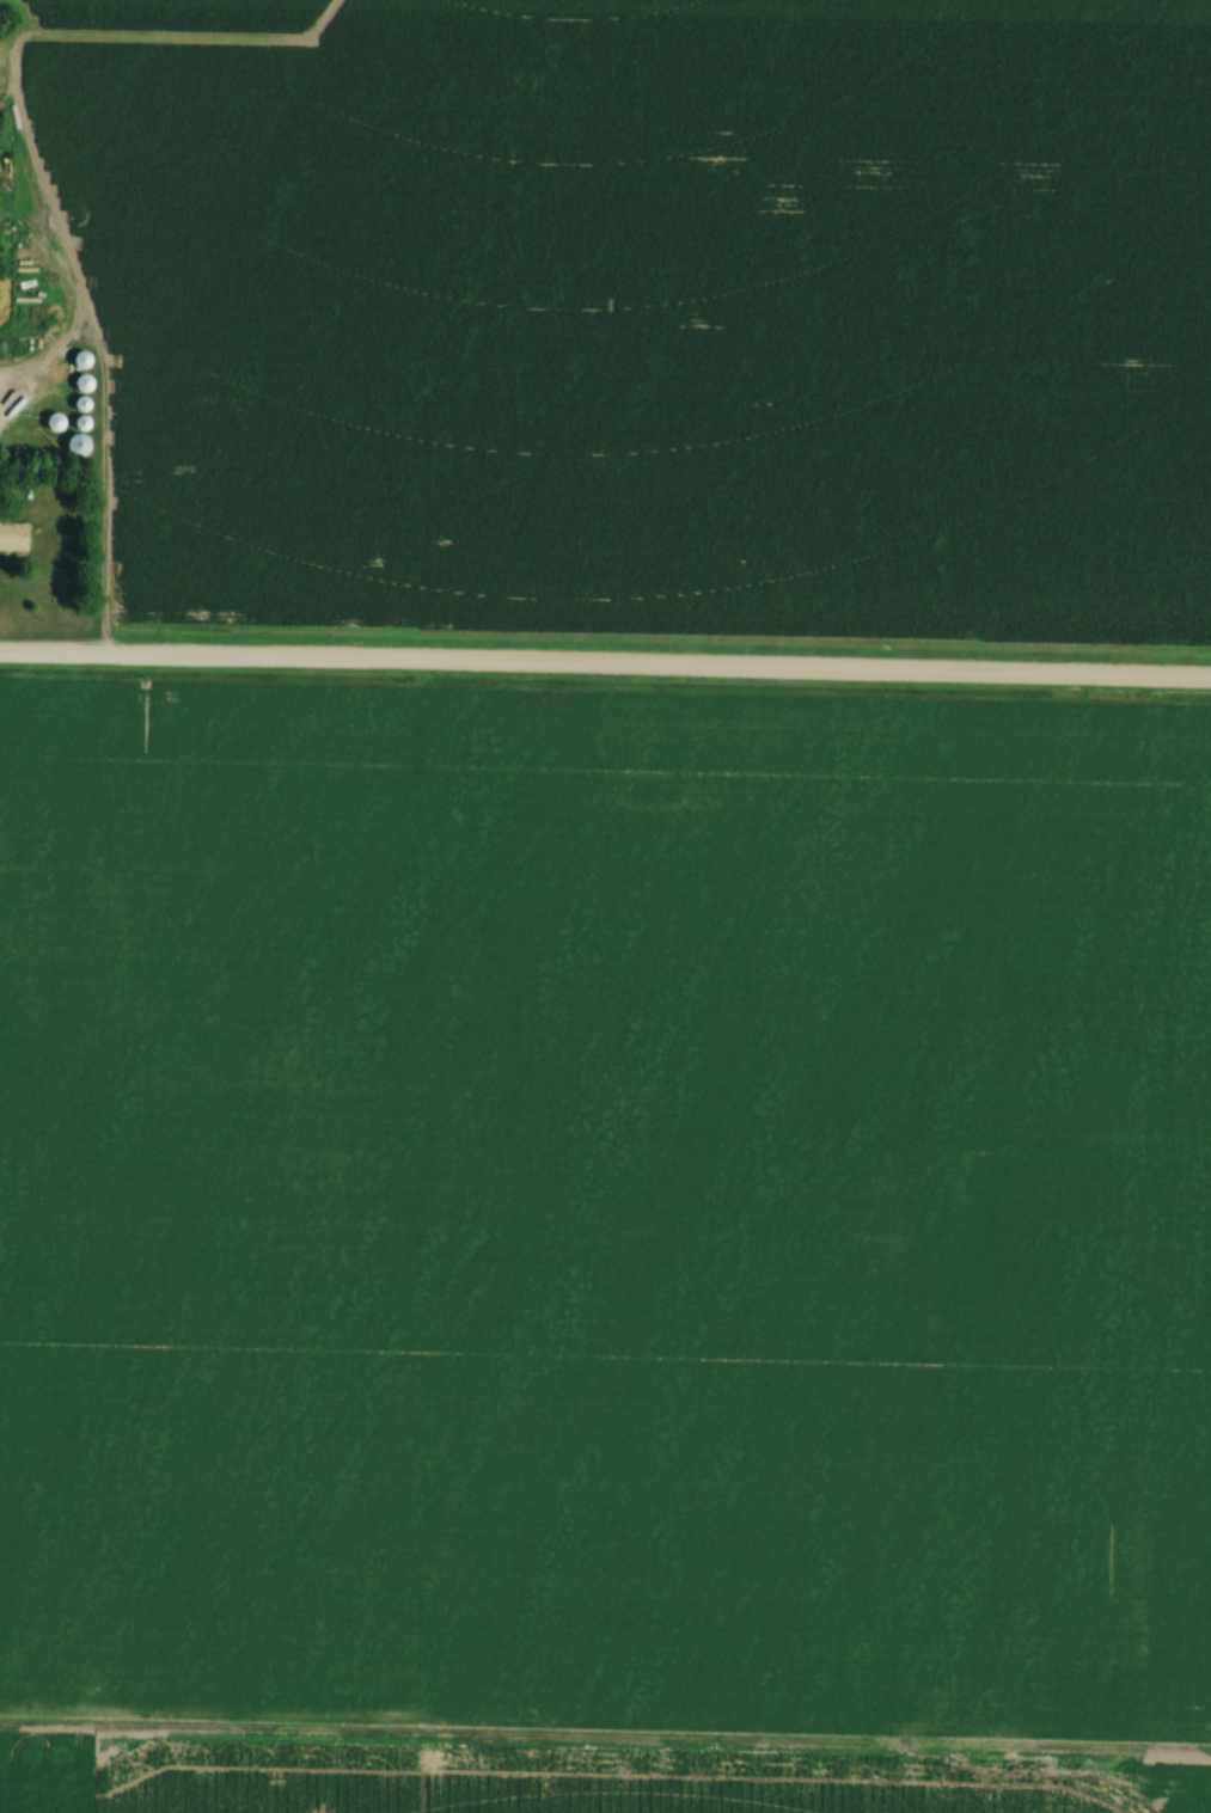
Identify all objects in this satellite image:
building: (53, 318)
building: (79, 361)
building: (79, 384)
building: (73, 445)
building: (12, 538)
road: (605, 672)

